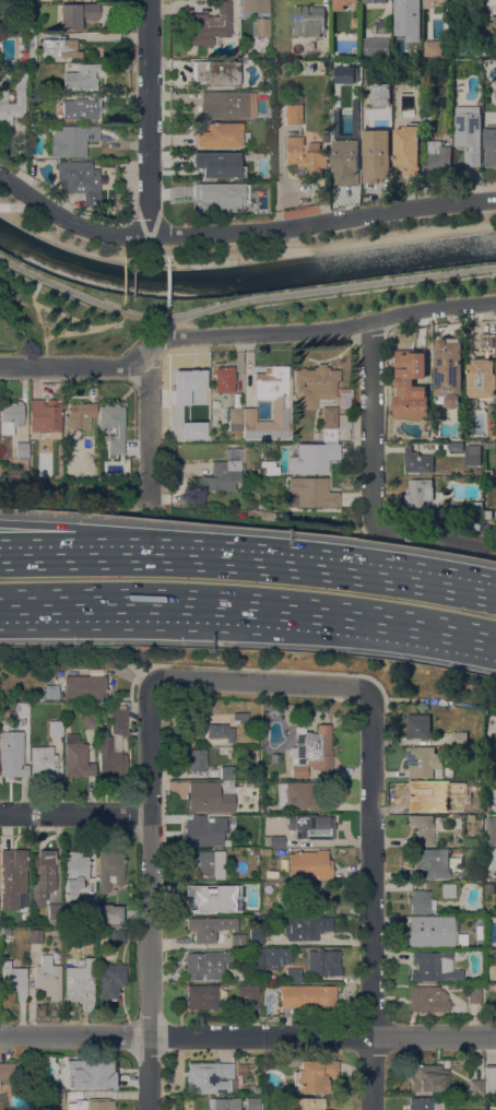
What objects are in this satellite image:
building: (375, 1)
building: (491, 1)
building: (434, 2)
building: (341, 3)
building: (21, 5)
building: (255, 5)
building: (456, 10)
building: (78, 13)
building: (399, 15)
building: (308, 20)
building: (209, 24)
building: (381, 25)
building: (262, 26)
building: (31, 46)
building: (59, 47)
building: (376, 47)
building: (432, 47)
building: (244, 55)
building: (386, 64)
building: (106, 67)
building: (215, 72)
building: (343, 73)
building: (81, 76)
building: (381, 93)
building: (495, 94)
building: (265, 95)
building: (20, 96)
building: (36, 97)
building: (224, 104)
building: (82, 107)
building: (294, 113)
road: (149, 117)
building: (427, 117)
building: (468, 131)
building: (221, 135)
building: (72, 139)
building: (491, 145)
building: (408, 147)
building: (345, 150)
building: (376, 154)
building: (305, 157)
building: (437, 157)
building: (216, 164)
building: (80, 179)
building: (224, 196)
road: (16, 204)
road: (35, 228)
road: (240, 232)
road: (365, 240)
river: (244, 277)
road: (13, 296)
road: (240, 298)
road: (79, 318)
park: (64, 320)
road: (172, 327)
road: (317, 329)
road: (44, 330)
road: (71, 331)
road: (71, 365)
building: (483, 369)
building: (449, 371)
building: (224, 378)
building: (193, 381)
building: (314, 385)
building: (411, 385)
building: (214, 403)
building: (280, 403)
building: (80, 414)
building: (11, 416)
building: (236, 417)
building: (45, 418)
road: (149, 423)
building: (329, 424)
building: (113, 426)
building: (492, 428)
building: (197, 430)
building: (181, 437)
building: (489, 445)
building: (55, 446)
building: (456, 446)
building: (22, 449)
building: (472, 453)
building: (312, 457)
building: (416, 460)
building: (477, 469)
building: (488, 471)
building: (220, 475)
road: (371, 482)
building: (311, 492)
building: (418, 492)
building: (476, 504)
building: (487, 513)
building: (264, 515)
road: (37, 546)
road: (37, 554)
road: (285, 563)
road: (249, 609)
road: (129, 617)
road: (262, 682)
building: (85, 686)
building: (49, 692)
building: (240, 717)
building: (88, 720)
building: (22, 724)
building: (418, 725)
building: (55, 727)
building: (216, 732)
building: (495, 733)
building: (459, 737)
building: (114, 745)
building: (311, 753)
building: (76, 757)
building: (196, 759)
building: (12, 760)
building: (43, 760)
building: (423, 761)
building: (226, 771)
building: (256, 783)
building: (491, 792)
building: (424, 793)
building: (295, 794)
building: (211, 795)
building: (464, 805)
building: (264, 807)
building: (494, 807)
road: (73, 812)
building: (471, 816)
building: (300, 825)
building: (422, 827)
building: (198, 829)
building: (491, 830)
building: (276, 838)
building: (264, 839)
building: (248, 841)
building: (471, 841)
building: (255, 850)
building: (267, 851)
building: (489, 859)
building: (208, 861)
building: (432, 862)
building: (309, 864)
building: (109, 869)
building: (74, 872)
building: (42, 875)
building: (13, 878)
building: (223, 888)
building: (447, 889)
building: (489, 890)
road: (147, 894)
building: (304, 894)
road: (370, 900)
building: (420, 900)
building: (88, 902)
building: (199, 902)
building: (288, 907)
building: (55, 911)
building: (110, 912)
building: (492, 923)
building: (306, 926)
building: (202, 929)
building: (88, 931)
building: (430, 931)
building: (477, 931)
building: (5, 934)
building: (256, 934)
building: (35, 935)
building: (117, 935)
building: (460, 938)
building: (237, 940)
building: (298, 953)
building: (269, 957)
building: (323, 961)
building: (204, 965)
building: (434, 967)
building: (49, 973)
building: (293, 975)
building: (14, 979)
building: (110, 980)
building: (80, 983)
building: (450, 985)
building: (474, 993)
building: (307, 995)
building: (202, 996)
building: (250, 999)
building: (428, 999)
road: (247, 1036)
building: (7, 1070)
building: (60, 1074)
building: (92, 1074)
building: (315, 1074)
building: (210, 1076)
building: (427, 1077)
building: (489, 1077)
building: (476, 1086)
building: (74, 1094)
building: (52, 1097)
building: (252, 1102)
building: (222, 1103)
building: (307, 1103)
building: (424, 1103)
building: (91, 1105)

